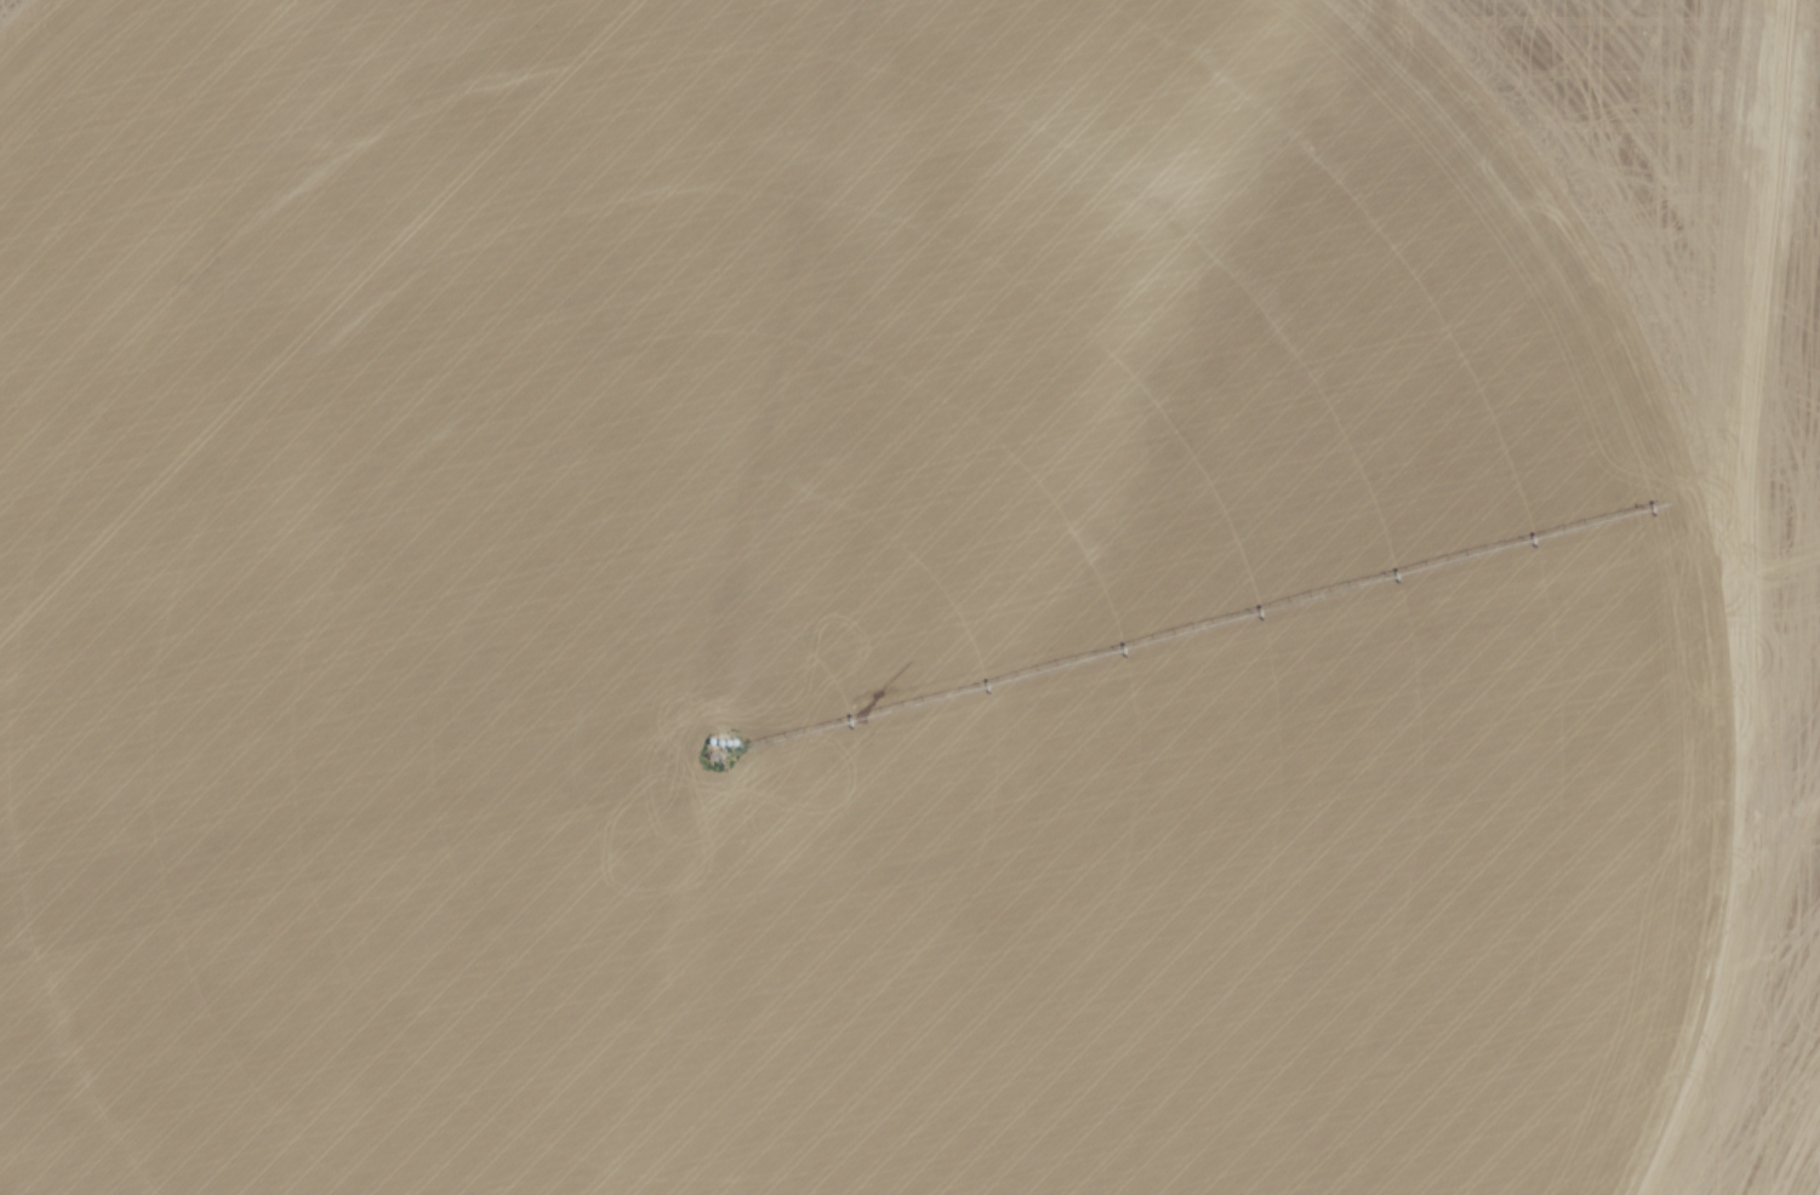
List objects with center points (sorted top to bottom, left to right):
crop: (822, 613)

